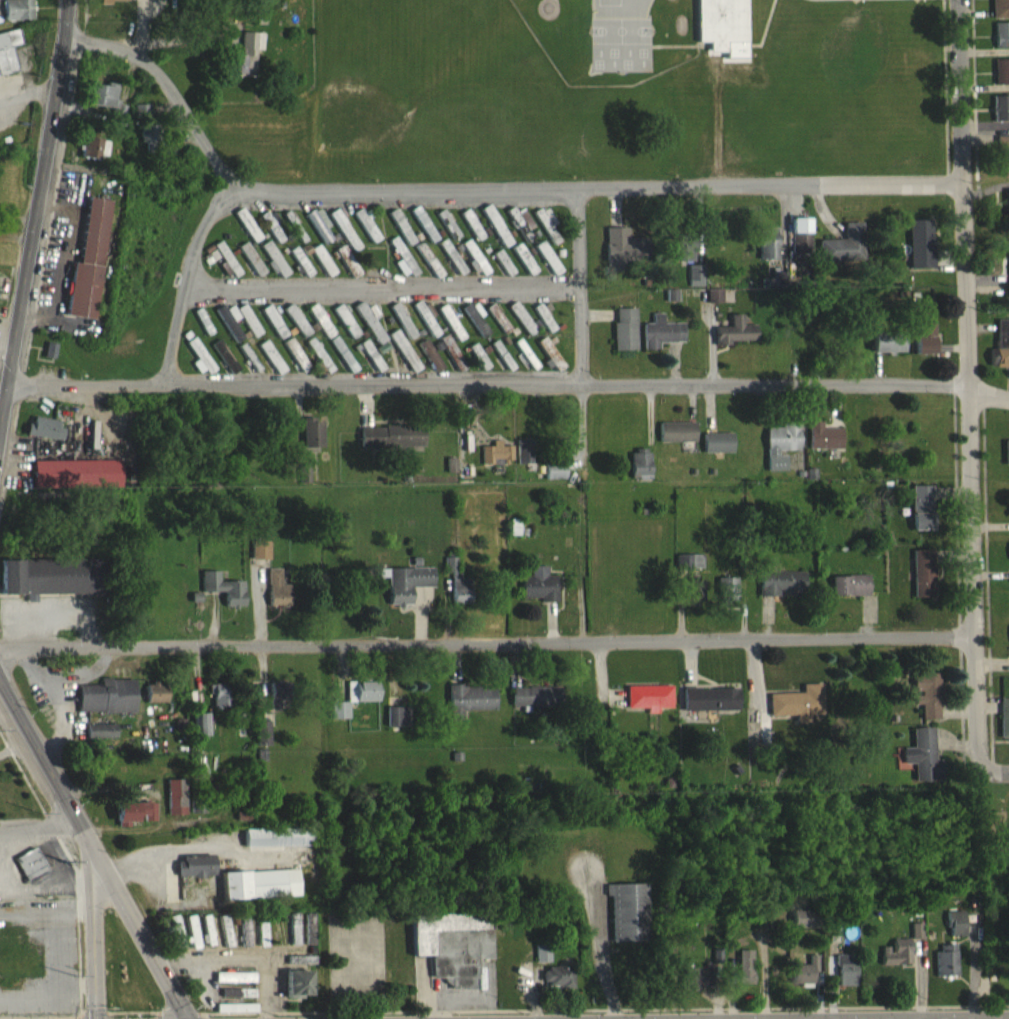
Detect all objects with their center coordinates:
building: (119, 4)
building: (1000, 13)
building: (17, 17)
building: (723, 24)
building: (1001, 44)
building: (8, 59)
building: (246, 64)
building: (1001, 81)
park: (841, 92)
road: (27, 103)
building: (108, 110)
building: (1000, 117)
building: (141, 119)
building: (147, 144)
building: (94, 157)
building: (1003, 162)
road: (475, 189)
building: (1007, 211)
road: (40, 214)
building: (519, 232)
building: (318, 233)
building: (422, 233)
building: (446, 233)
building: (470, 233)
building: (546, 233)
building: (246, 234)
building: (271, 234)
building: (365, 234)
building: (494, 234)
building: (400, 236)
building: (344, 237)
building: (767, 252)
building: (919, 253)
building: (843, 254)
building: (622, 255)
building: (684, 259)
building: (1008, 264)
building: (401, 266)
building: (450, 266)
building: (546, 267)
building: (250, 268)
building: (523, 268)
building: (273, 269)
building: (322, 269)
building: (427, 269)
building: (300, 270)
building: (345, 270)
building: (87, 271)
building: (502, 271)
road: (185, 281)
building: (694, 284)
road: (578, 285)
road: (381, 287)
building: (775, 288)
building: (713, 304)
building: (543, 324)
building: (474, 327)
building: (497, 327)
building: (426, 328)
building: (522, 328)
building: (247, 329)
building: (296, 329)
building: (320, 329)
building: (401, 329)
building: (228, 330)
building: (273, 330)
building: (345, 330)
building: (369, 330)
building: (623, 338)
building: (733, 340)
building: (659, 341)
building: (923, 346)
building: (886, 350)
building: (1001, 352)
building: (49, 359)
building: (403, 359)
building: (547, 360)
building: (450, 361)
building: (523, 362)
building: (295, 363)
building: (318, 363)
building: (429, 364)
building: (500, 364)
building: (224, 365)
building: (370, 365)
building: (477, 365)
building: (199, 366)
building: (248, 366)
building: (270, 366)
road: (509, 383)
road: (967, 384)
building: (43, 437)
building: (676, 441)
building: (310, 442)
building: (390, 445)
building: (822, 445)
building: (716, 452)
building: (780, 453)
building: (1006, 461)
building: (638, 473)
building: (553, 479)
building: (75, 482)
building: (921, 517)
building: (259, 559)
building: (688, 571)
building: (922, 582)
building: (50, 586)
building: (456, 591)
building: (778, 591)
building: (405, 592)
building: (538, 594)
building: (849, 594)
building: (222, 597)
building: (276, 598)
building: (726, 598)
building: (692, 601)
road: (486, 640)
building: (360, 700)
building: (155, 702)
building: (276, 702)
building: (219, 703)
building: (926, 703)
building: (106, 705)
building: (534, 705)
building: (648, 706)
building: (709, 708)
building: (468, 709)
building: (797, 711)
building: (338, 719)
building: (396, 725)
building: (1004, 726)
building: (200, 733)
building: (100, 739)
building: (261, 742)
building: (922, 765)
road: (996, 770)
building: (174, 806)
building: (133, 822)
road: (41, 826)
building: (275, 846)
road: (95, 849)
building: (29, 873)
building: (193, 875)
building: (258, 893)
building: (626, 921)
building: (802, 928)
building: (954, 932)
building: (292, 938)
building: (307, 938)
building: (206, 939)
building: (175, 940)
building: (224, 940)
building: (243, 940)
building: (915, 940)
building: (191, 941)
building: (260, 942)
road: (93, 943)
road: (600, 944)
building: (450, 954)
road: (244, 957)
building: (895, 961)
building: (540, 962)
building: (299, 969)
building: (945, 969)
building: (744, 976)
building: (845, 979)
building: (695, 985)
building: (233, 986)
building: (555, 987)
building: (295, 993)
building: (236, 1002)
road: (544, 1007)
road: (158, 1015)
building: (234, 1015)
road: (81, 1016)

